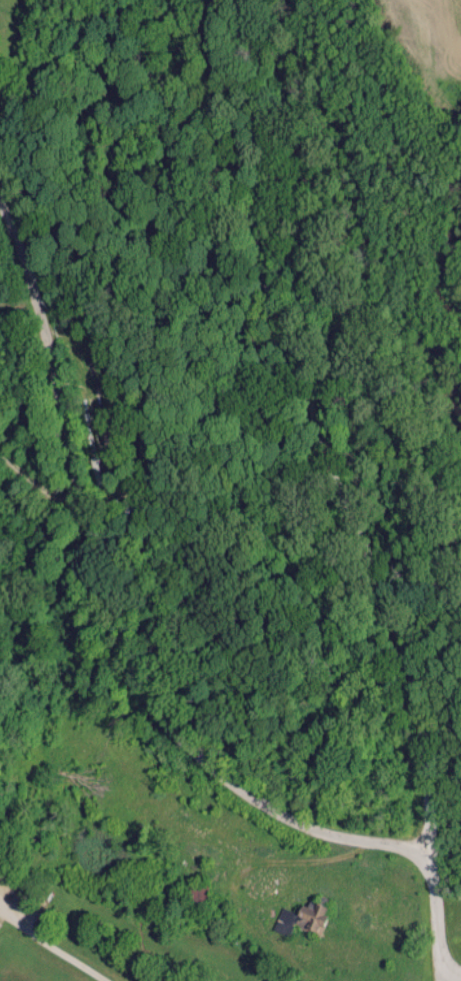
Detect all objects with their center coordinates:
road: (327, 437)
road: (35, 490)
road: (130, 684)
building: (299, 918)

